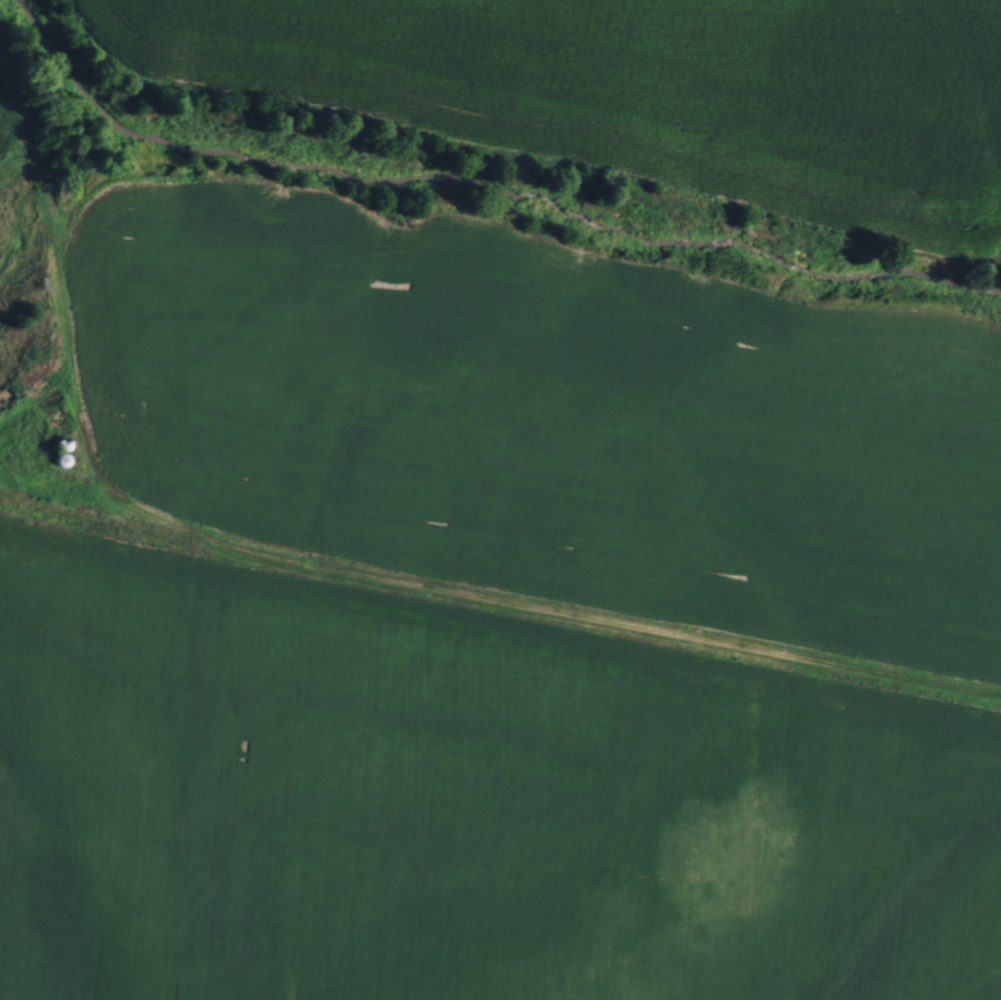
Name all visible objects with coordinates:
road: (450, 590)

